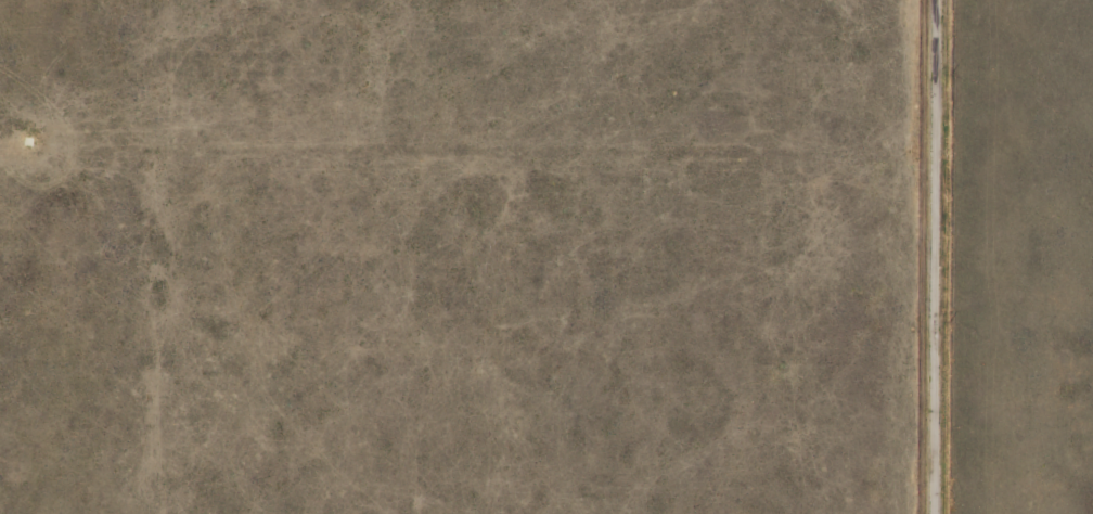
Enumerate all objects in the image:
road: (939, 257)

